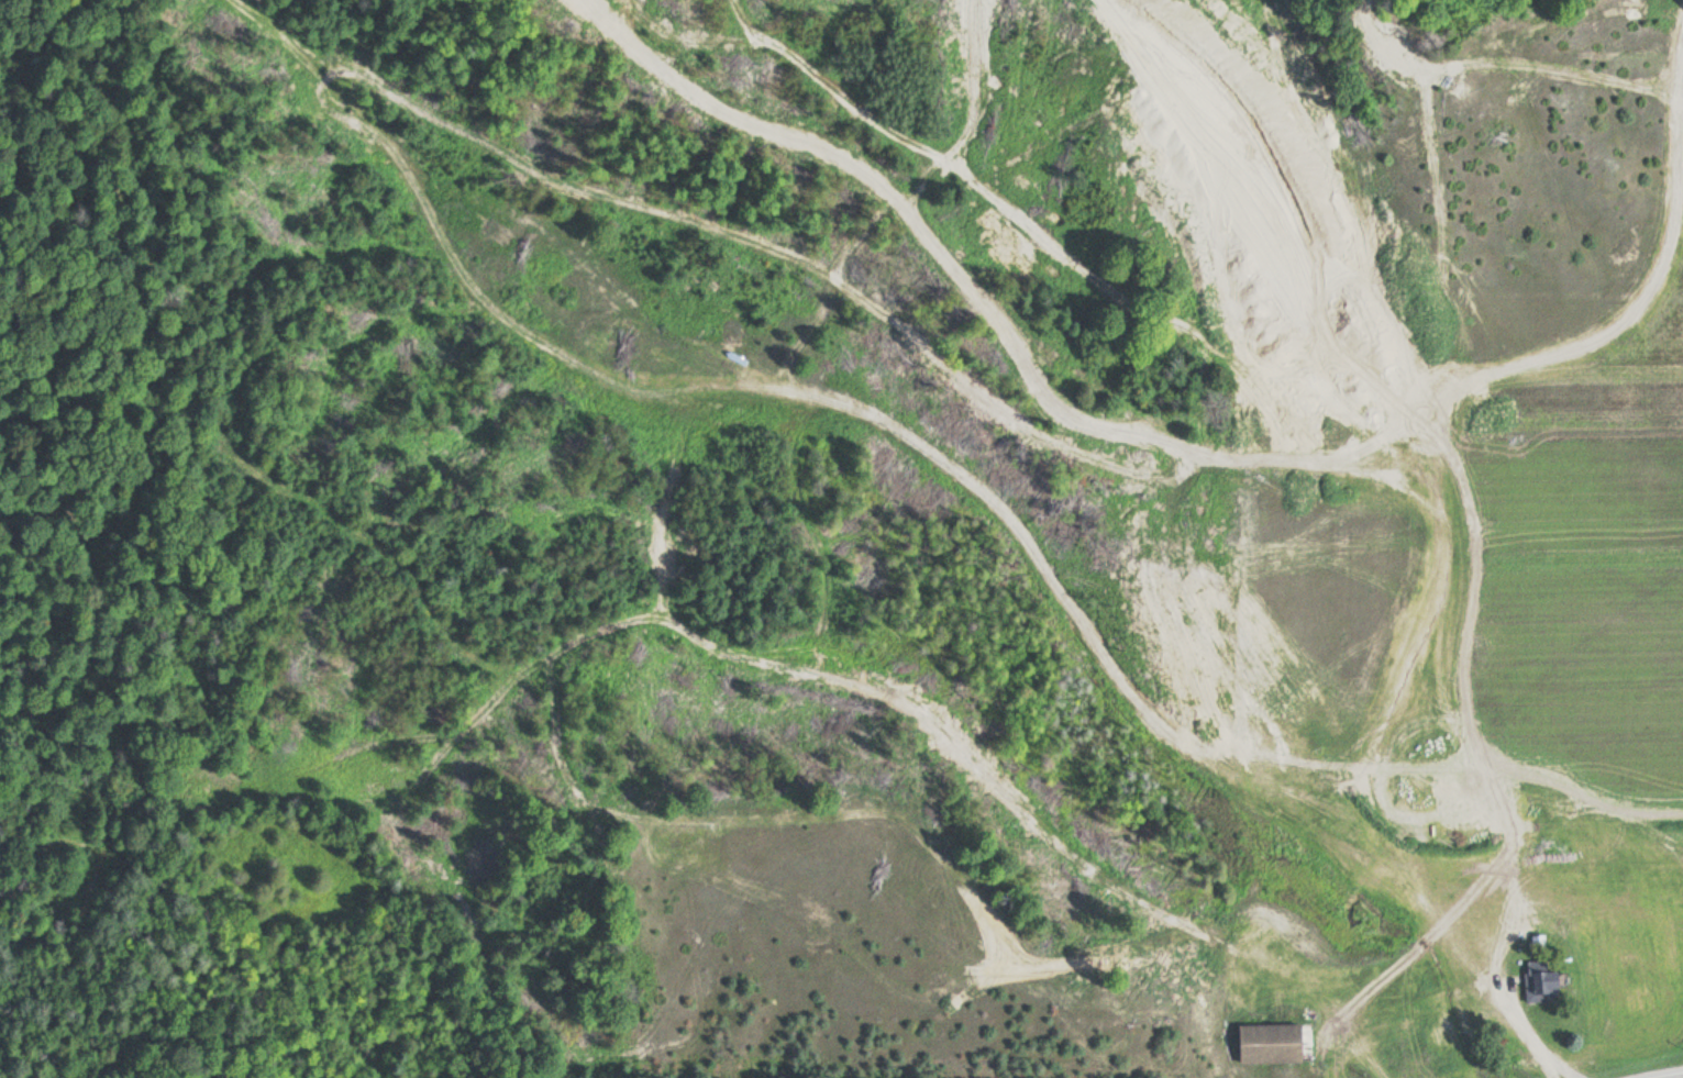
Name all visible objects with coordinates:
airport runway: (1585, 620)
building: (1547, 908)
building: (1539, 981)
building: (1267, 1044)

